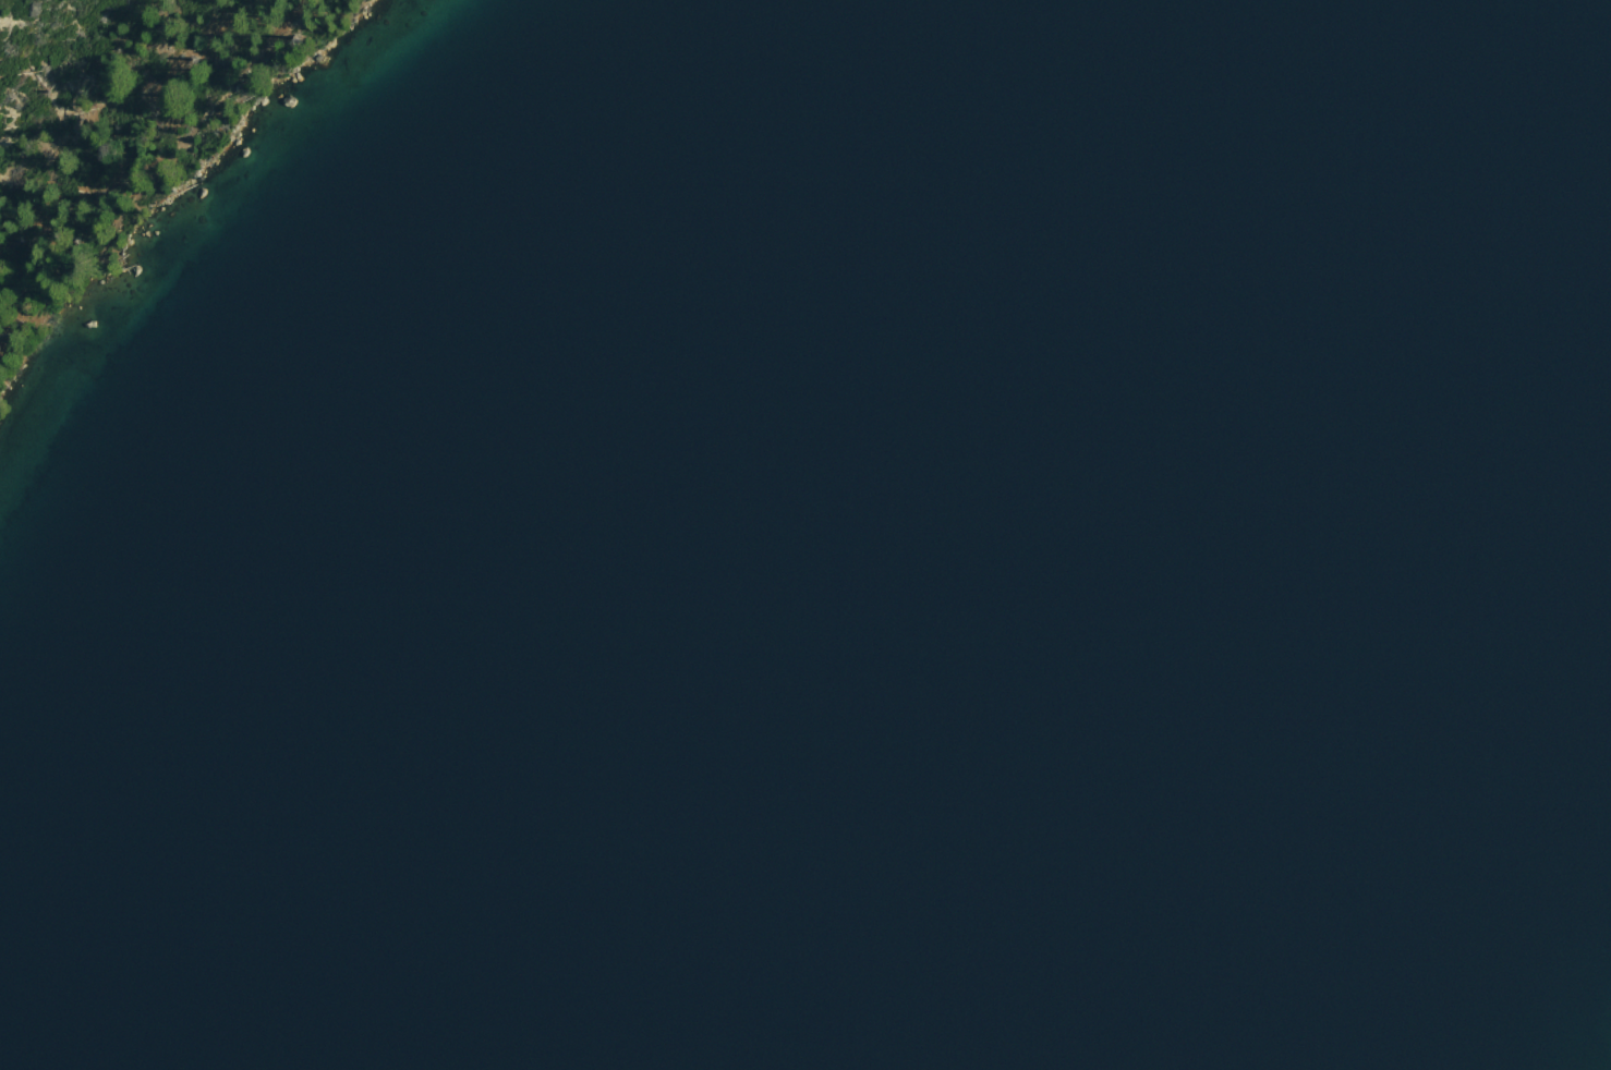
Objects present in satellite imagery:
road: (152, 181)

